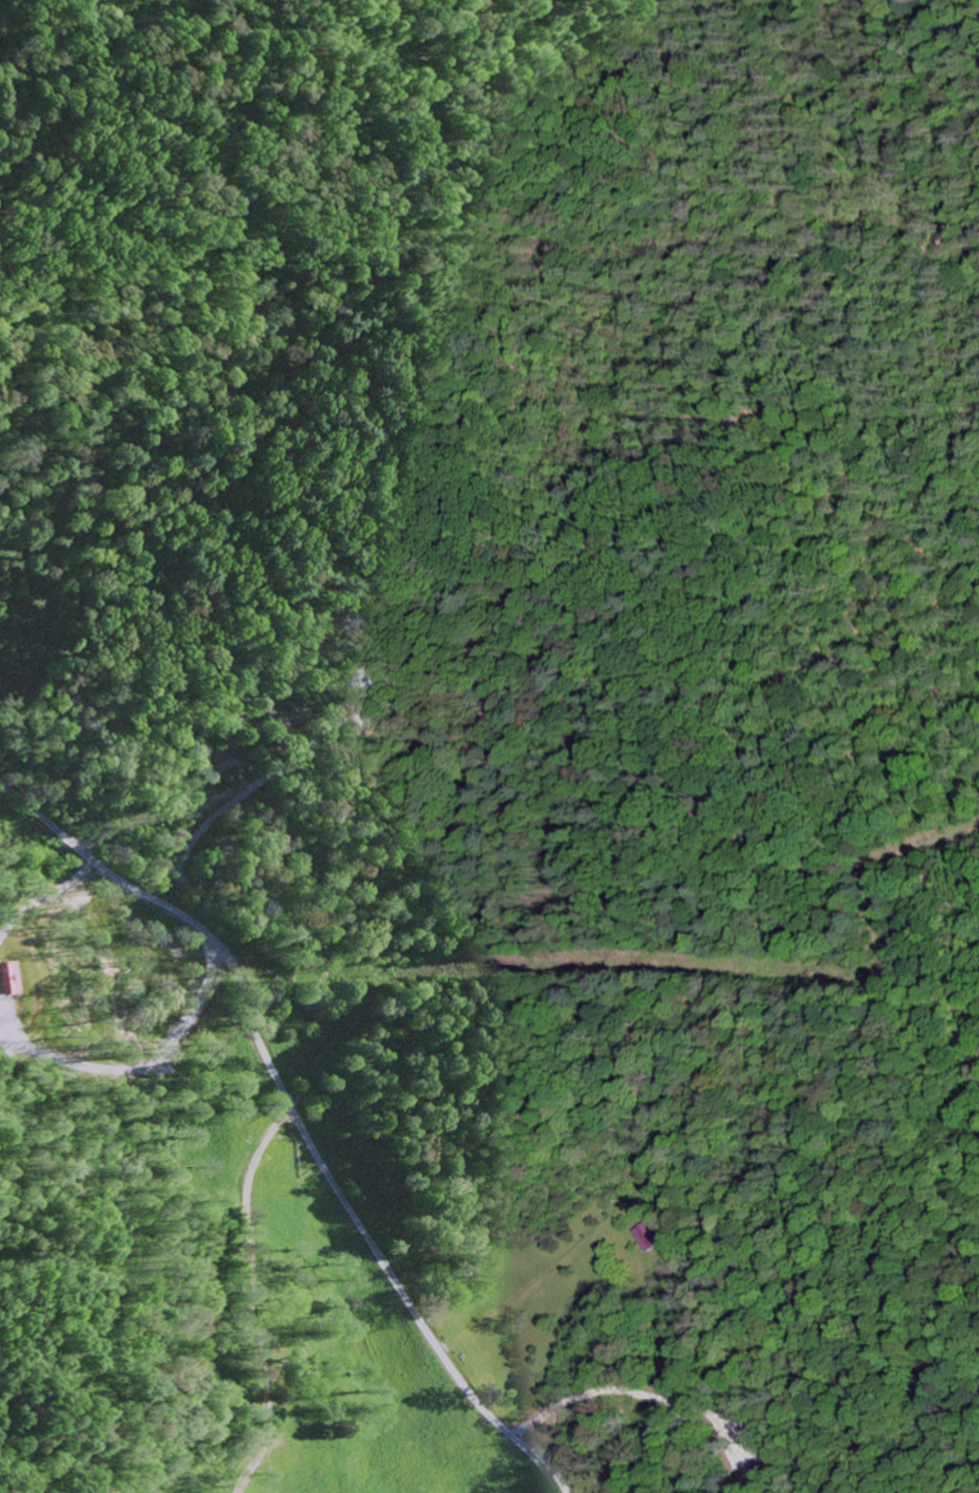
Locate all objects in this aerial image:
building: (11, 977)
road: (297, 1115)
building: (646, 1237)

